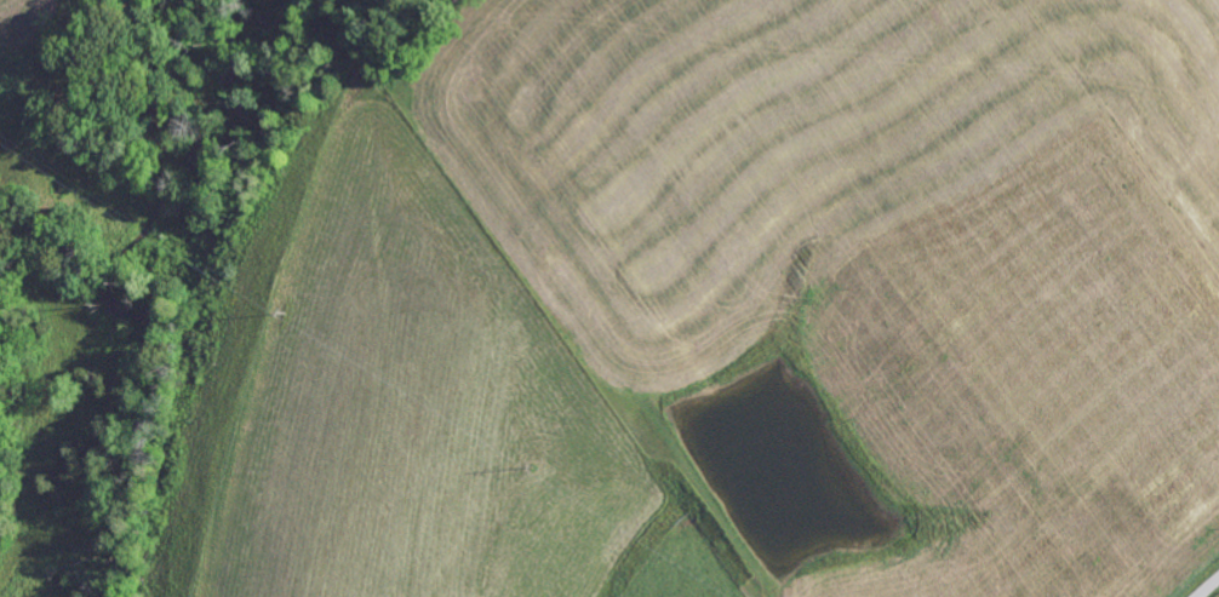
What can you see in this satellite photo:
road: (1206, 585)

